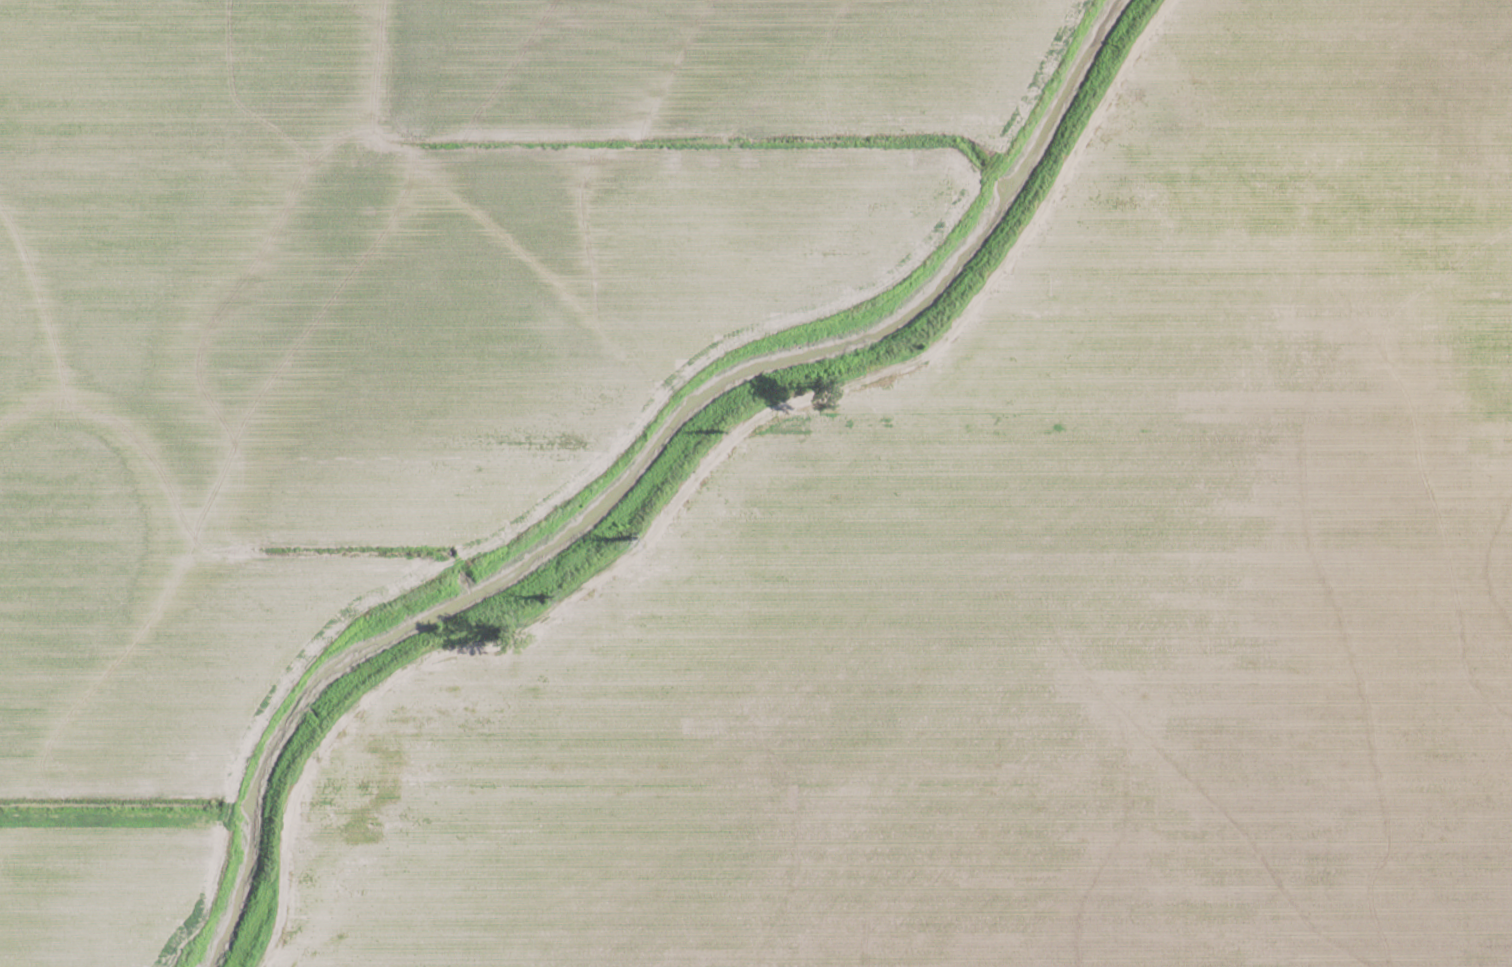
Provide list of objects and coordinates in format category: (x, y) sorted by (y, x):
road: (695, 478)
road: (80, 816)

